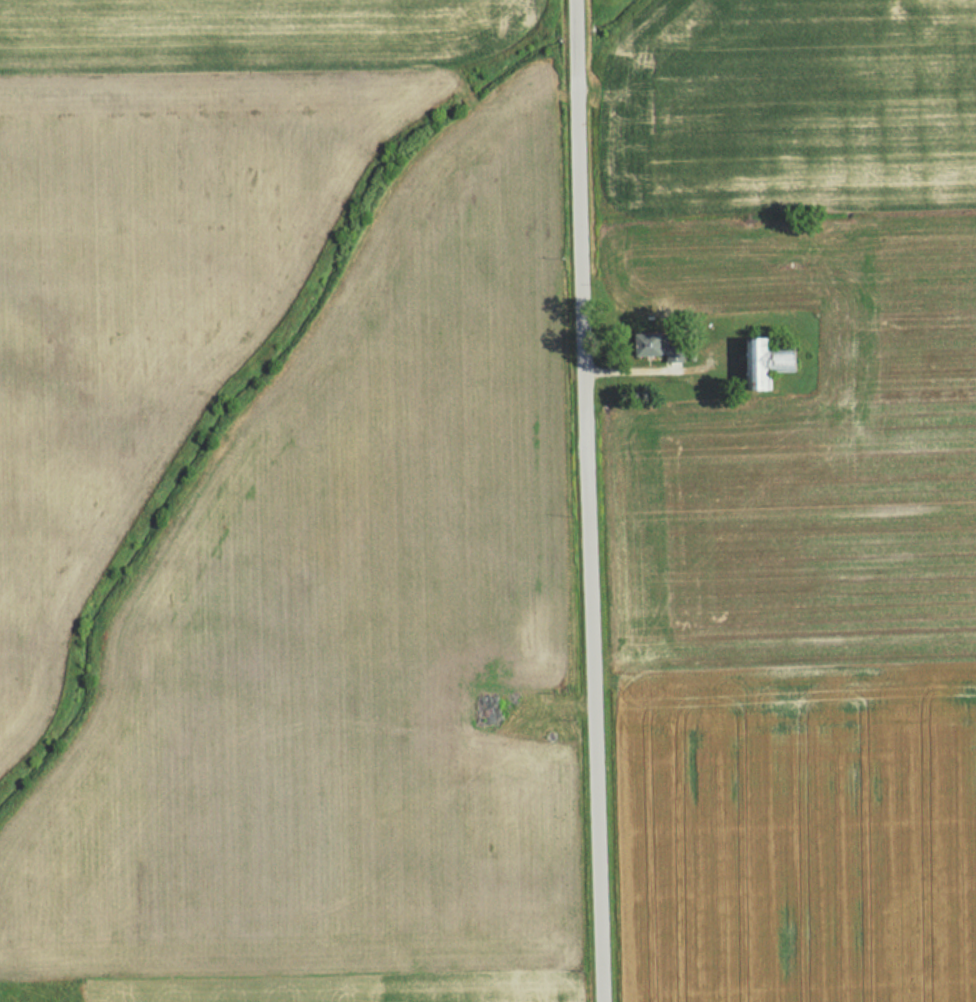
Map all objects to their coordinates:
crop: (592, 3)
crop: (788, 105)
crop: (158, 235)
road: (583, 501)
crop: (806, 655)
crop: (345, 659)

